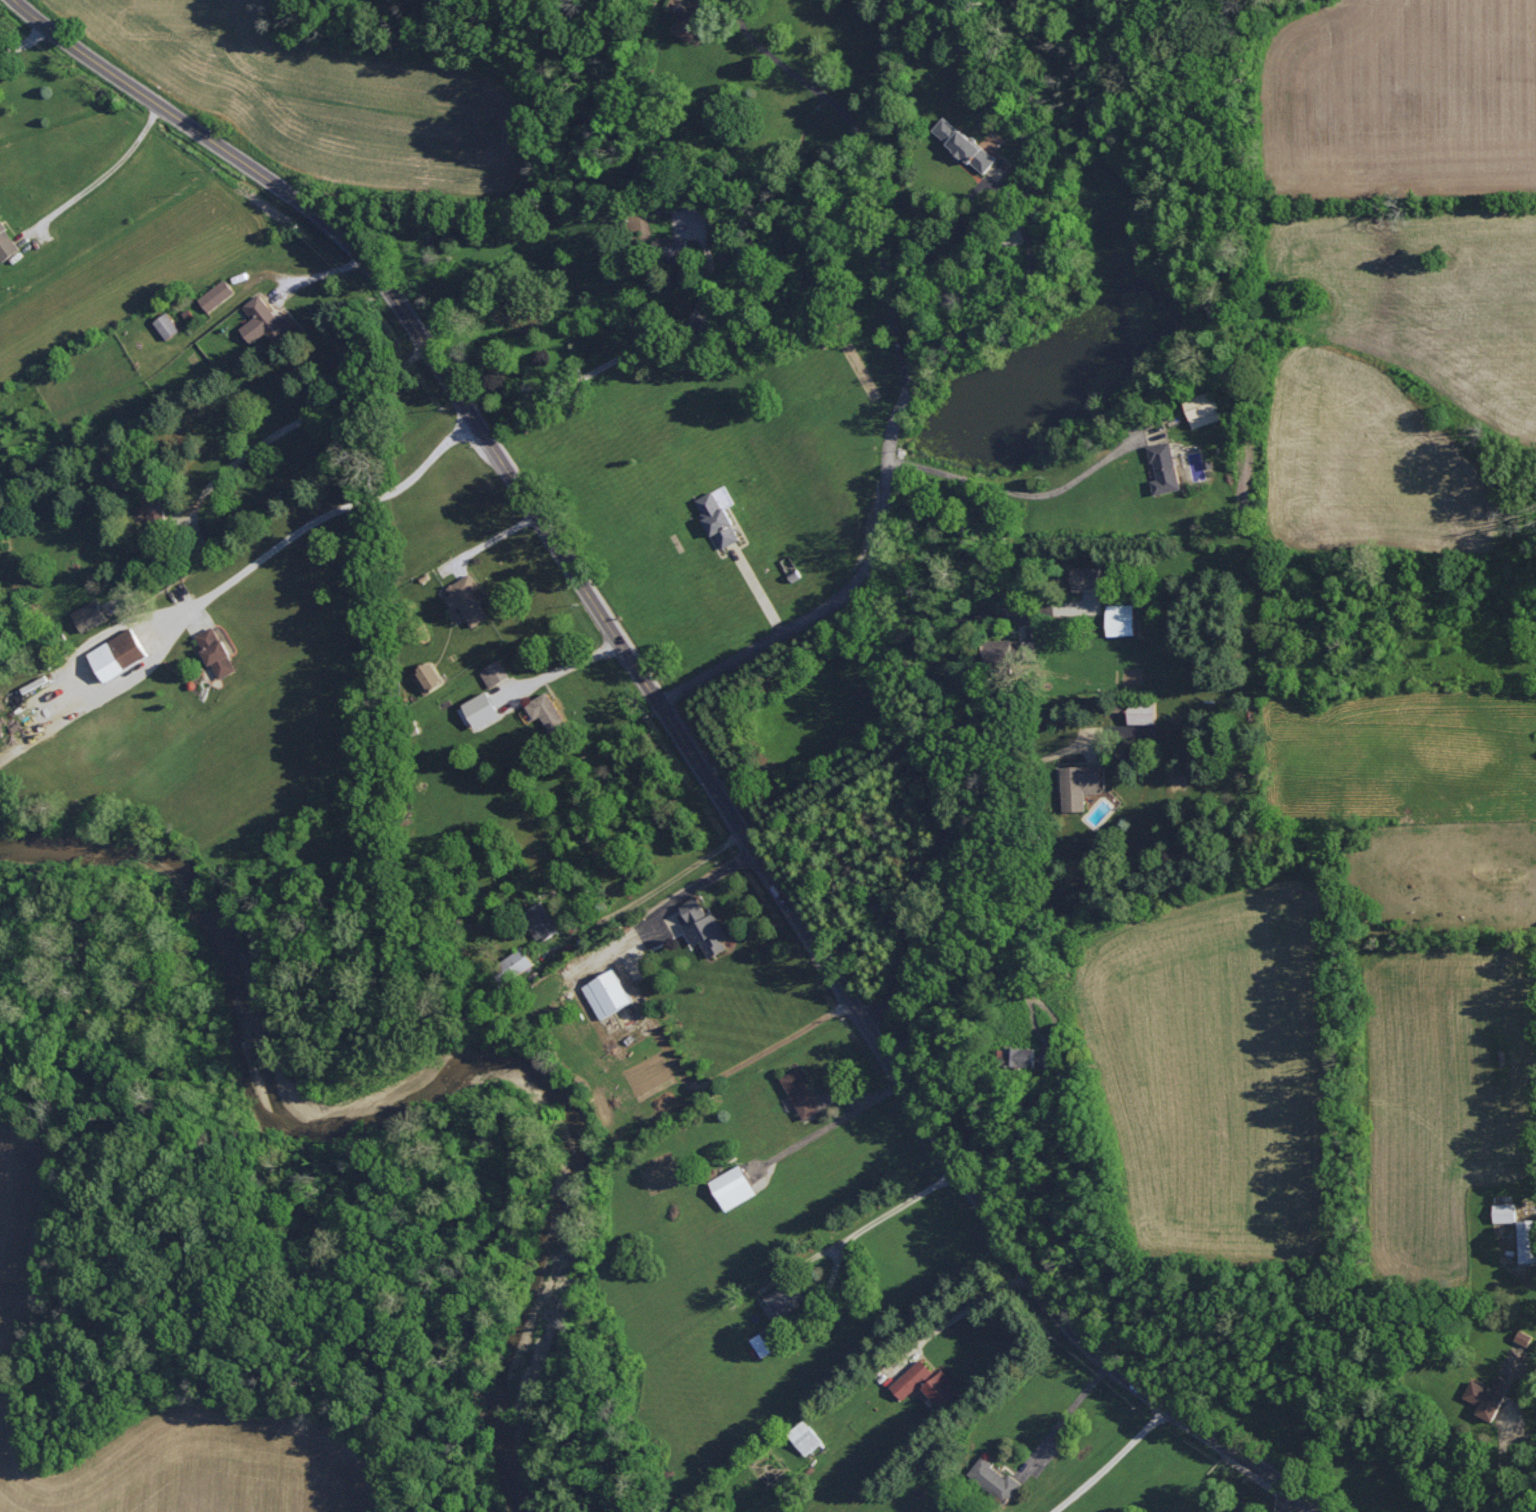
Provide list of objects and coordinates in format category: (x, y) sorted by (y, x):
building: (694, 17)
road: (24, 41)
road: (800, 91)
building: (965, 143)
road: (108, 170)
road: (976, 187)
building: (7, 242)
building: (674, 247)
road: (896, 291)
building: (217, 294)
road: (392, 297)
building: (265, 320)
building: (168, 324)
road: (630, 350)
building: (1204, 407)
road: (299, 419)
building: (1165, 467)
building: (719, 515)
road: (1048, 517)
road: (491, 538)
building: (1087, 576)
road: (757, 588)
road: (215, 593)
building: (468, 598)
building: (90, 614)
building: (1121, 618)
road: (935, 623)
road: (758, 644)
building: (217, 651)
building: (1010, 651)
building: (119, 653)
road: (560, 669)
building: (495, 672)
building: (429, 676)
building: (483, 708)
building: (547, 710)
building: (1143, 711)
building: (1080, 784)
road: (946, 847)
road: (649, 892)
road: (679, 897)
building: (694, 908)
building: (541, 920)
building: (709, 933)
building: (515, 963)
building: (608, 992)
building: (1020, 1056)
building: (1045, 1059)
building: (802, 1093)
road: (857, 1110)
road: (947, 1147)
building: (734, 1186)
building: (1505, 1211)
road: (872, 1222)
building: (1535, 1225)
building: (1527, 1240)
building: (784, 1299)
road: (976, 1304)
building: (767, 1340)
building: (912, 1377)
building: (944, 1388)
building: (1488, 1395)
road: (1067, 1412)
building: (806, 1436)
road: (1111, 1461)
road: (1505, 1461)
building: (995, 1479)
road: (1287, 1502)

